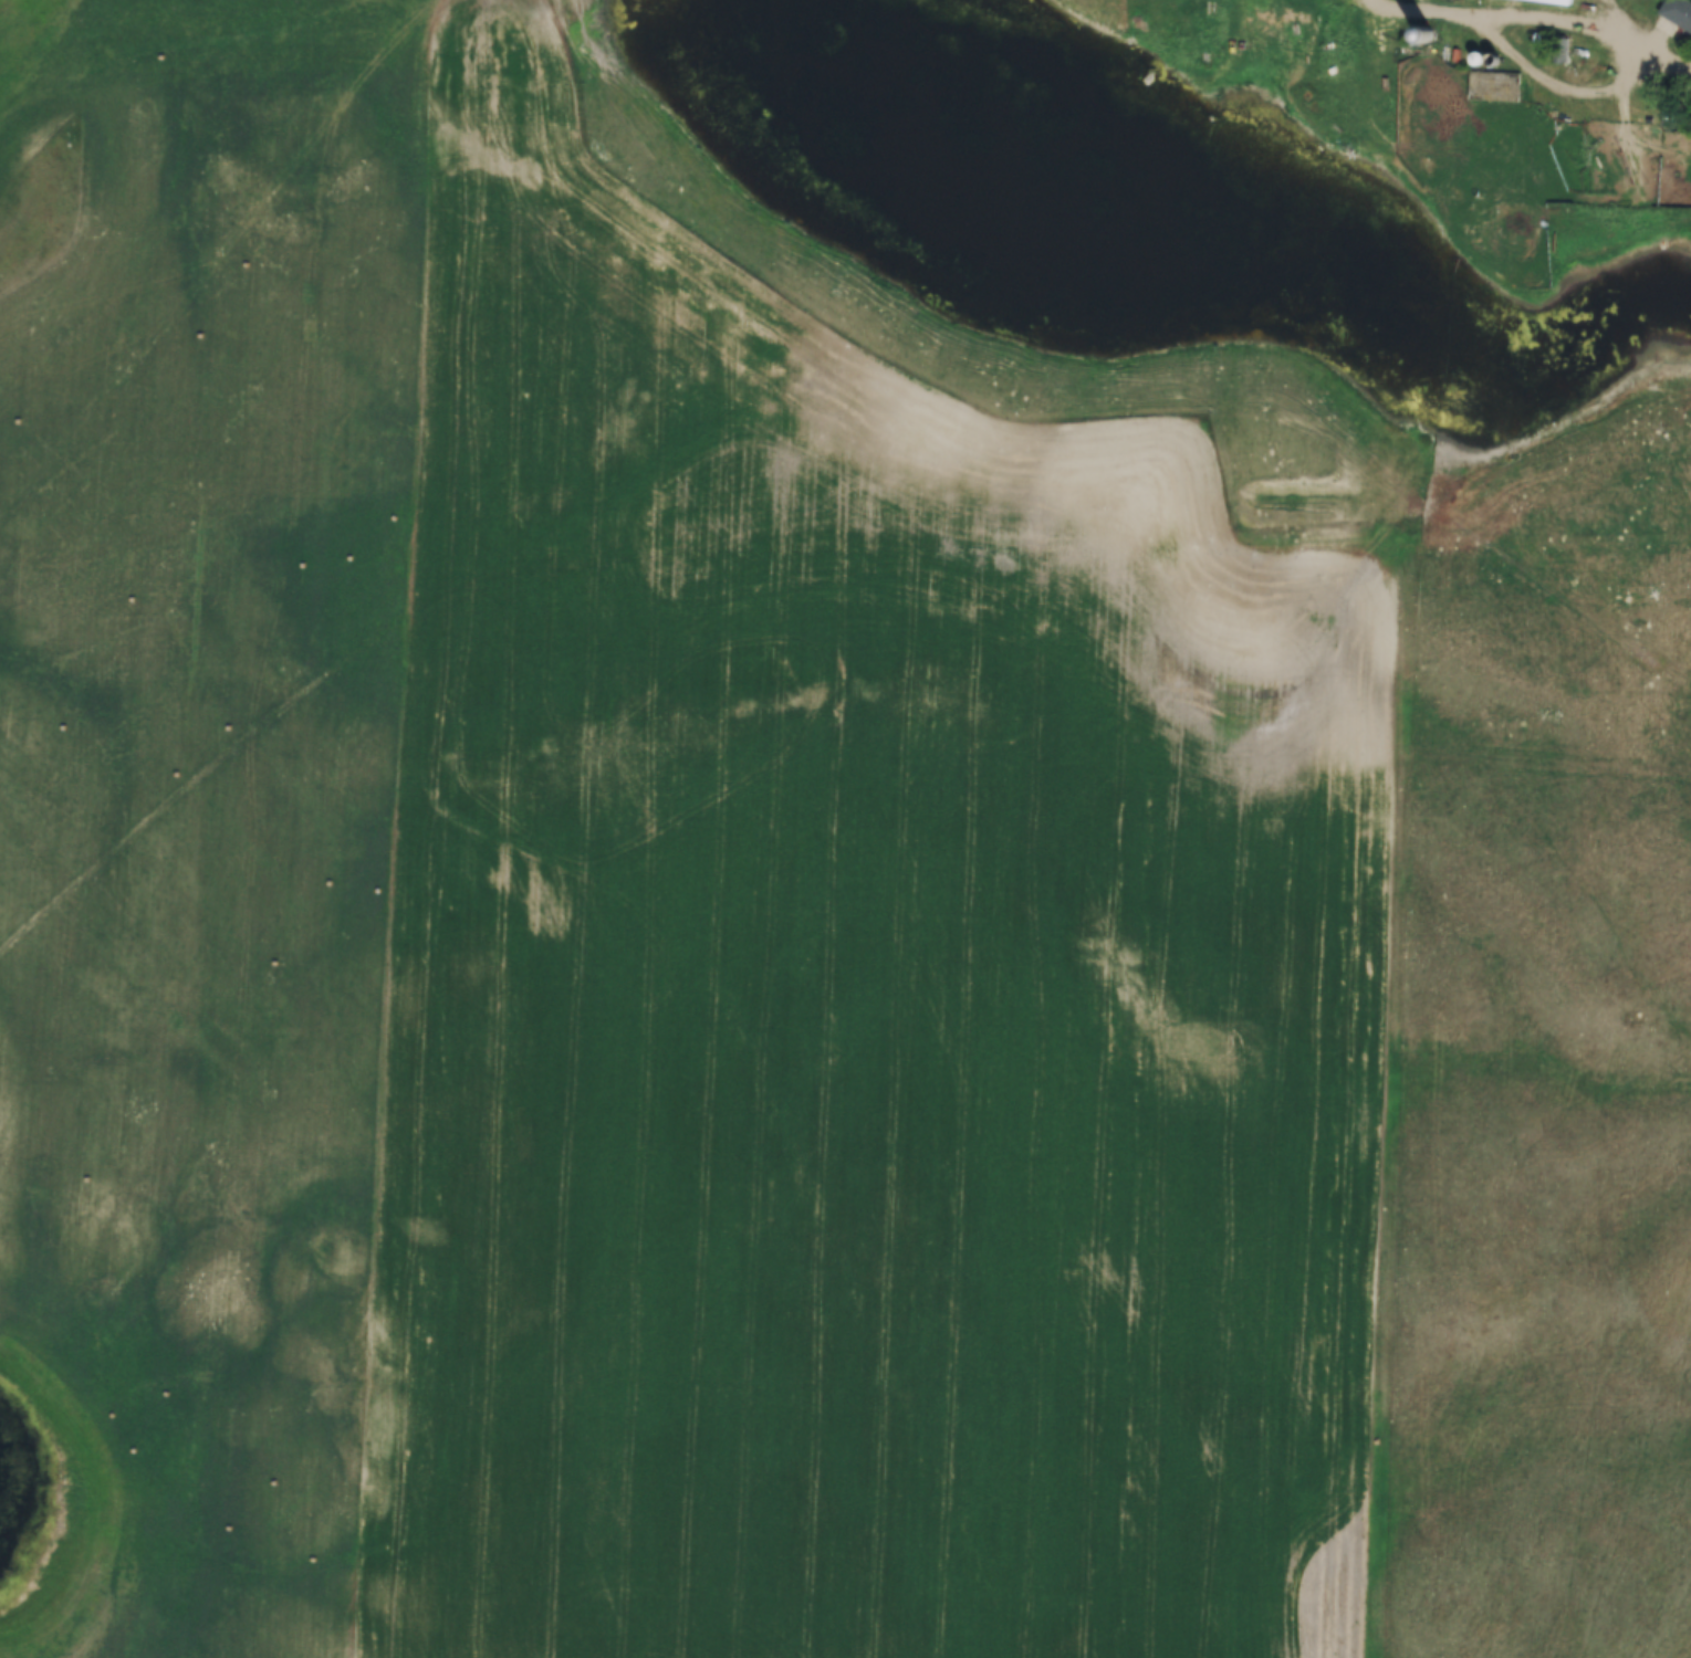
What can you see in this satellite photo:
building: (1541, 1)
road: (1412, 13)
building: (1673, 13)
road: (1575, 28)
road: (35, 54)
road: (1562, 91)
road: (1078, 419)

